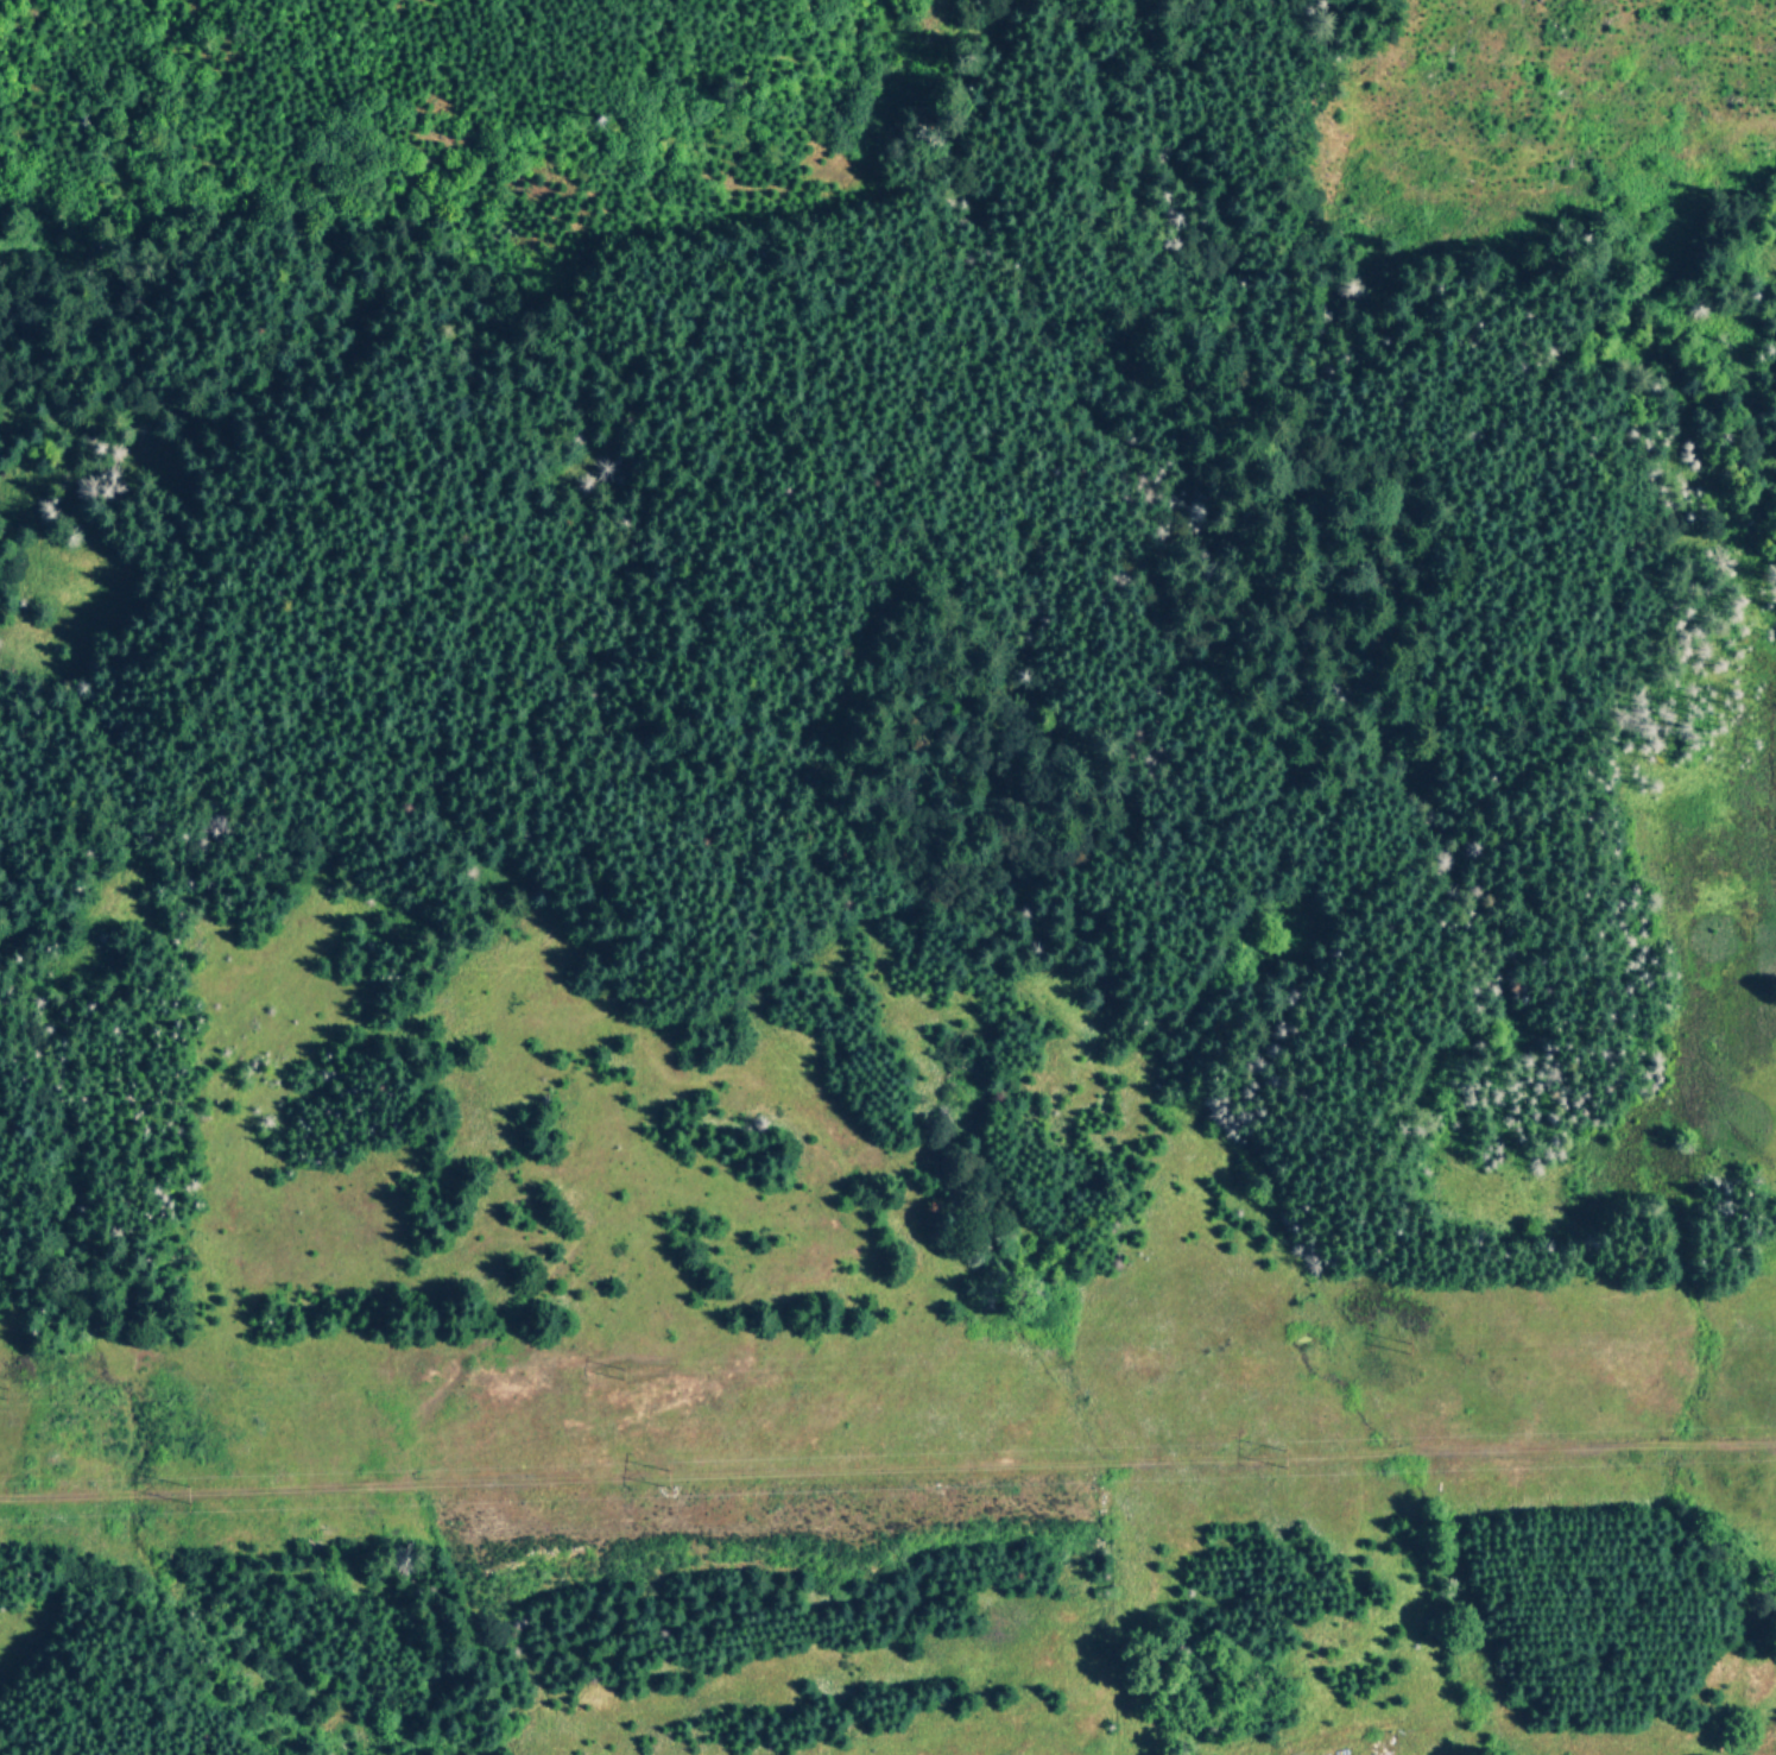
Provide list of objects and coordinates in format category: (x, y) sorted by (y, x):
power tower: (1285, 1463)
power tower: (666, 1479)
power tower: (185, 1495)

